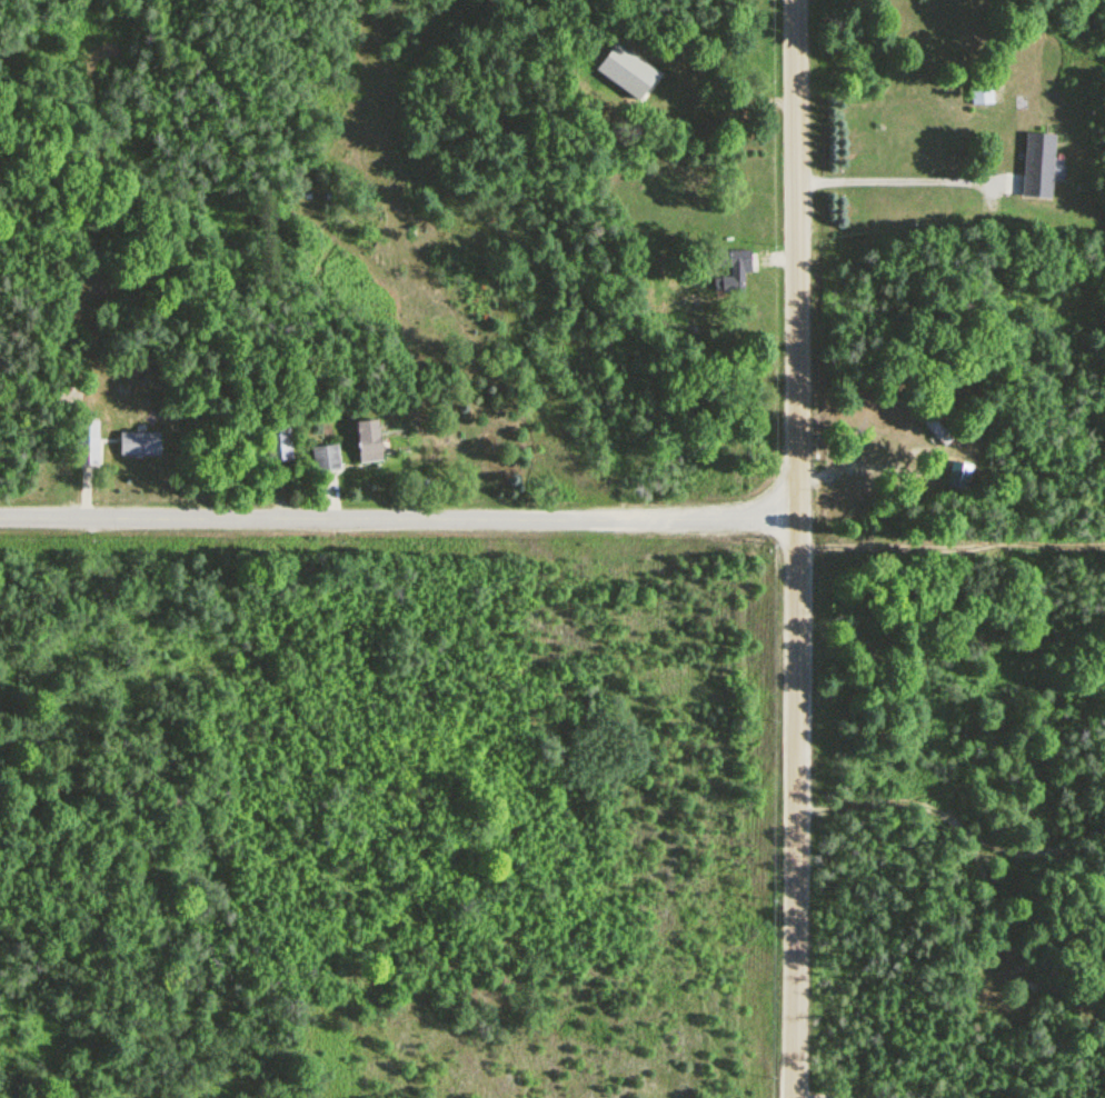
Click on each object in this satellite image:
building: (983, 87)
building: (683, 100)
road: (753, 103)
building: (1042, 164)
road: (903, 181)
road: (1013, 182)
road: (990, 196)
road: (780, 259)
building: (733, 271)
building: (936, 431)
building: (369, 441)
building: (140, 443)
building: (278, 443)
building: (88, 450)
road: (925, 451)
road: (1021, 457)
building: (326, 459)
road: (874, 466)
building: (963, 473)
road: (401, 515)
road: (954, 547)
road: (803, 549)
road: (818, 1097)

